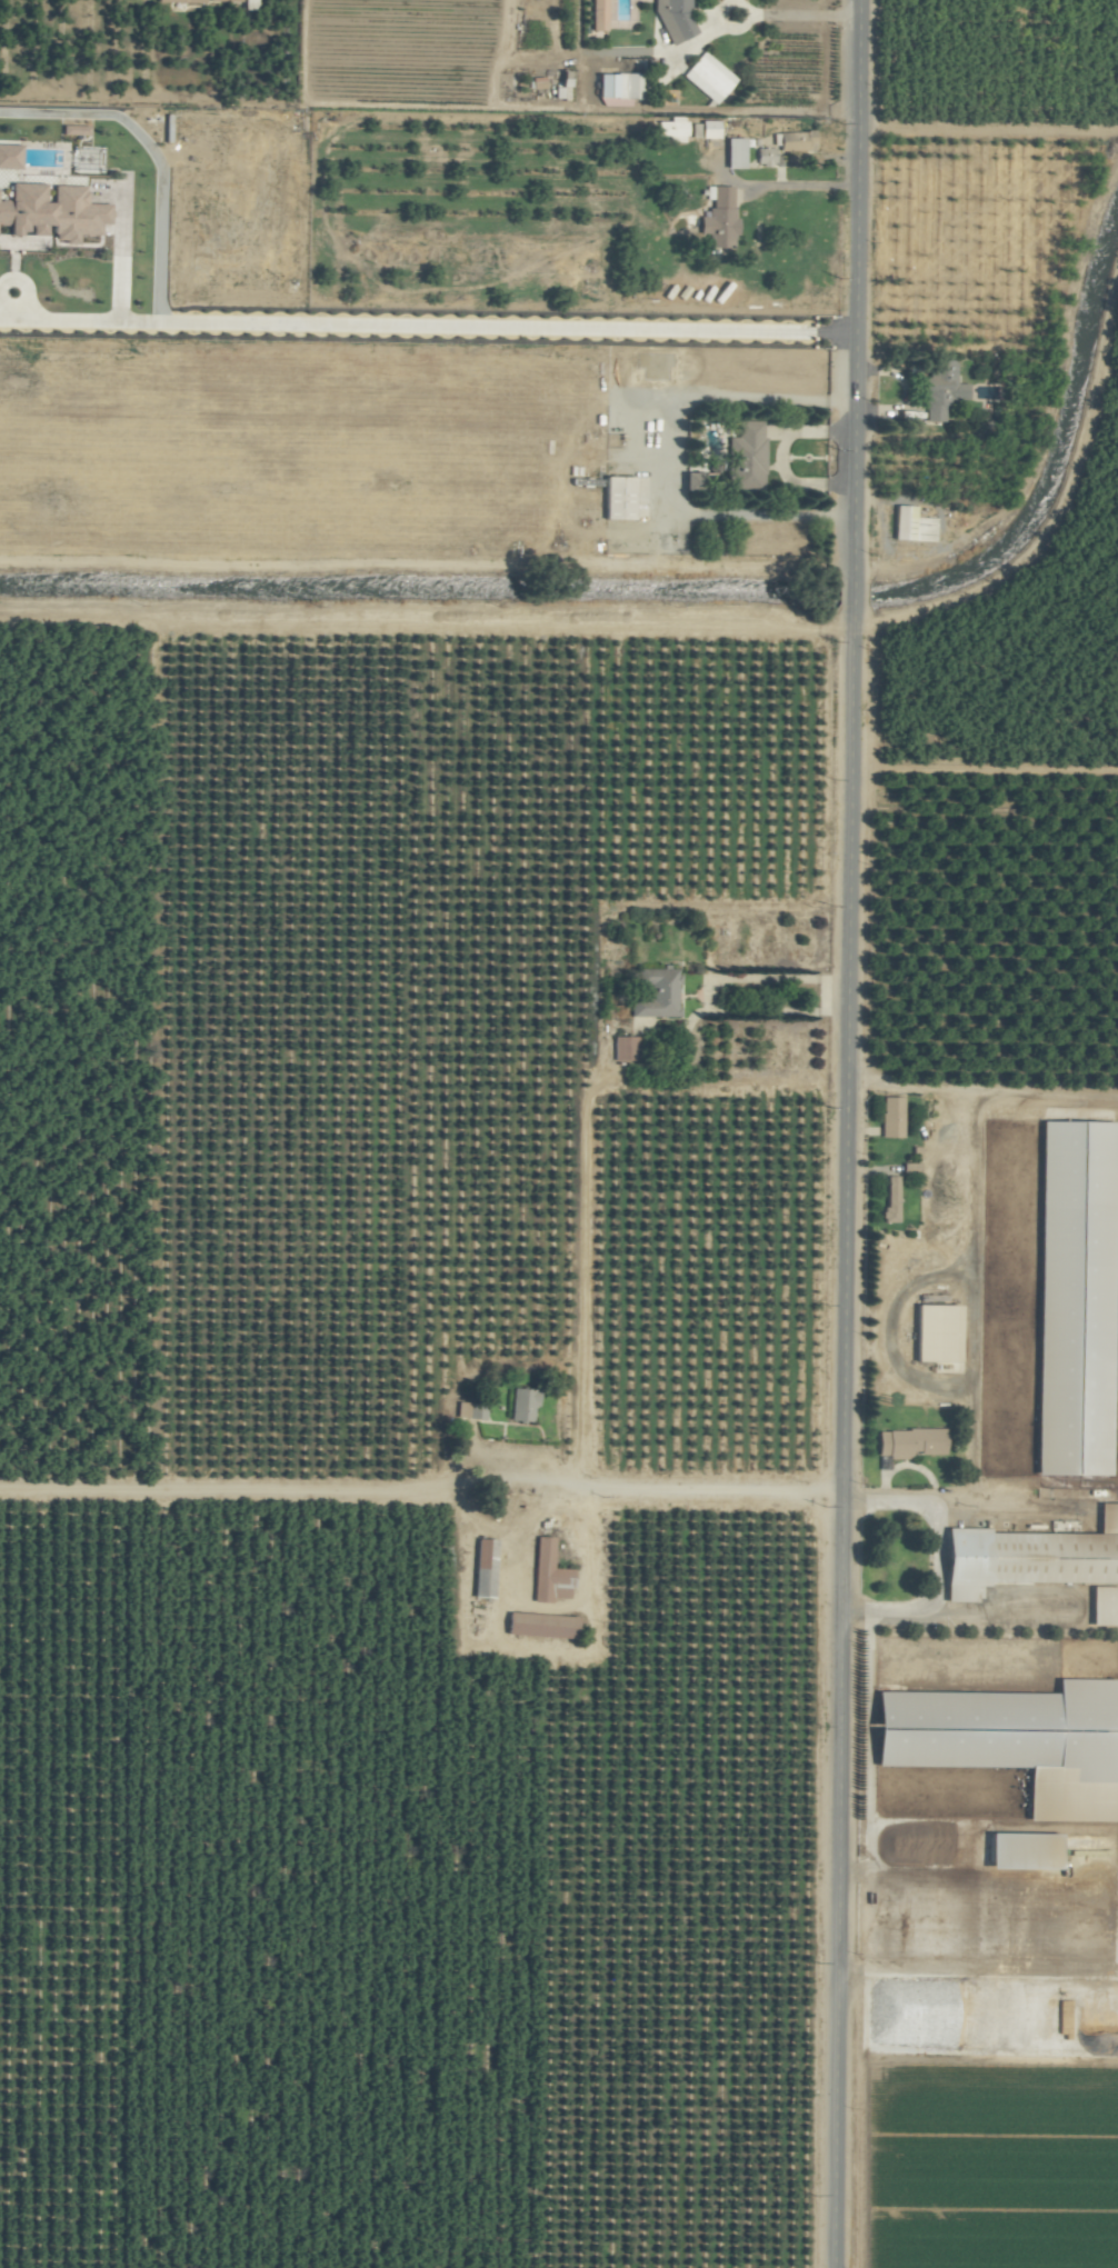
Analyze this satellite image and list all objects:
building: (224, 0)
building: (180, 1)
building: (678, 3)
building: (247, 4)
building: (597, 14)
road: (795, 14)
road: (823, 56)
building: (707, 77)
building: (618, 86)
road: (647, 111)
road: (839, 111)
building: (669, 128)
building: (702, 130)
building: (792, 141)
building: (733, 153)
building: (763, 157)
road: (793, 183)
building: (50, 212)
building: (718, 219)
road: (430, 324)
building: (939, 390)
building: (746, 456)
building: (616, 498)
road: (753, 514)
building: (910, 526)
building: (656, 992)
building: (623, 1047)
building: (890, 1117)
building: (1075, 1126)
crop: (559, 1133)
road: (842, 1133)
building: (889, 1199)
road: (976, 1238)
building: (935, 1332)
building: (521, 1403)
building: (460, 1409)
building: (908, 1442)
road: (833, 1496)
road: (938, 1557)
building: (1030, 1557)
building: (482, 1567)
building: (547, 1573)
building: (1102, 1606)
road: (956, 1610)
building: (539, 1625)
building: (1011, 1740)

